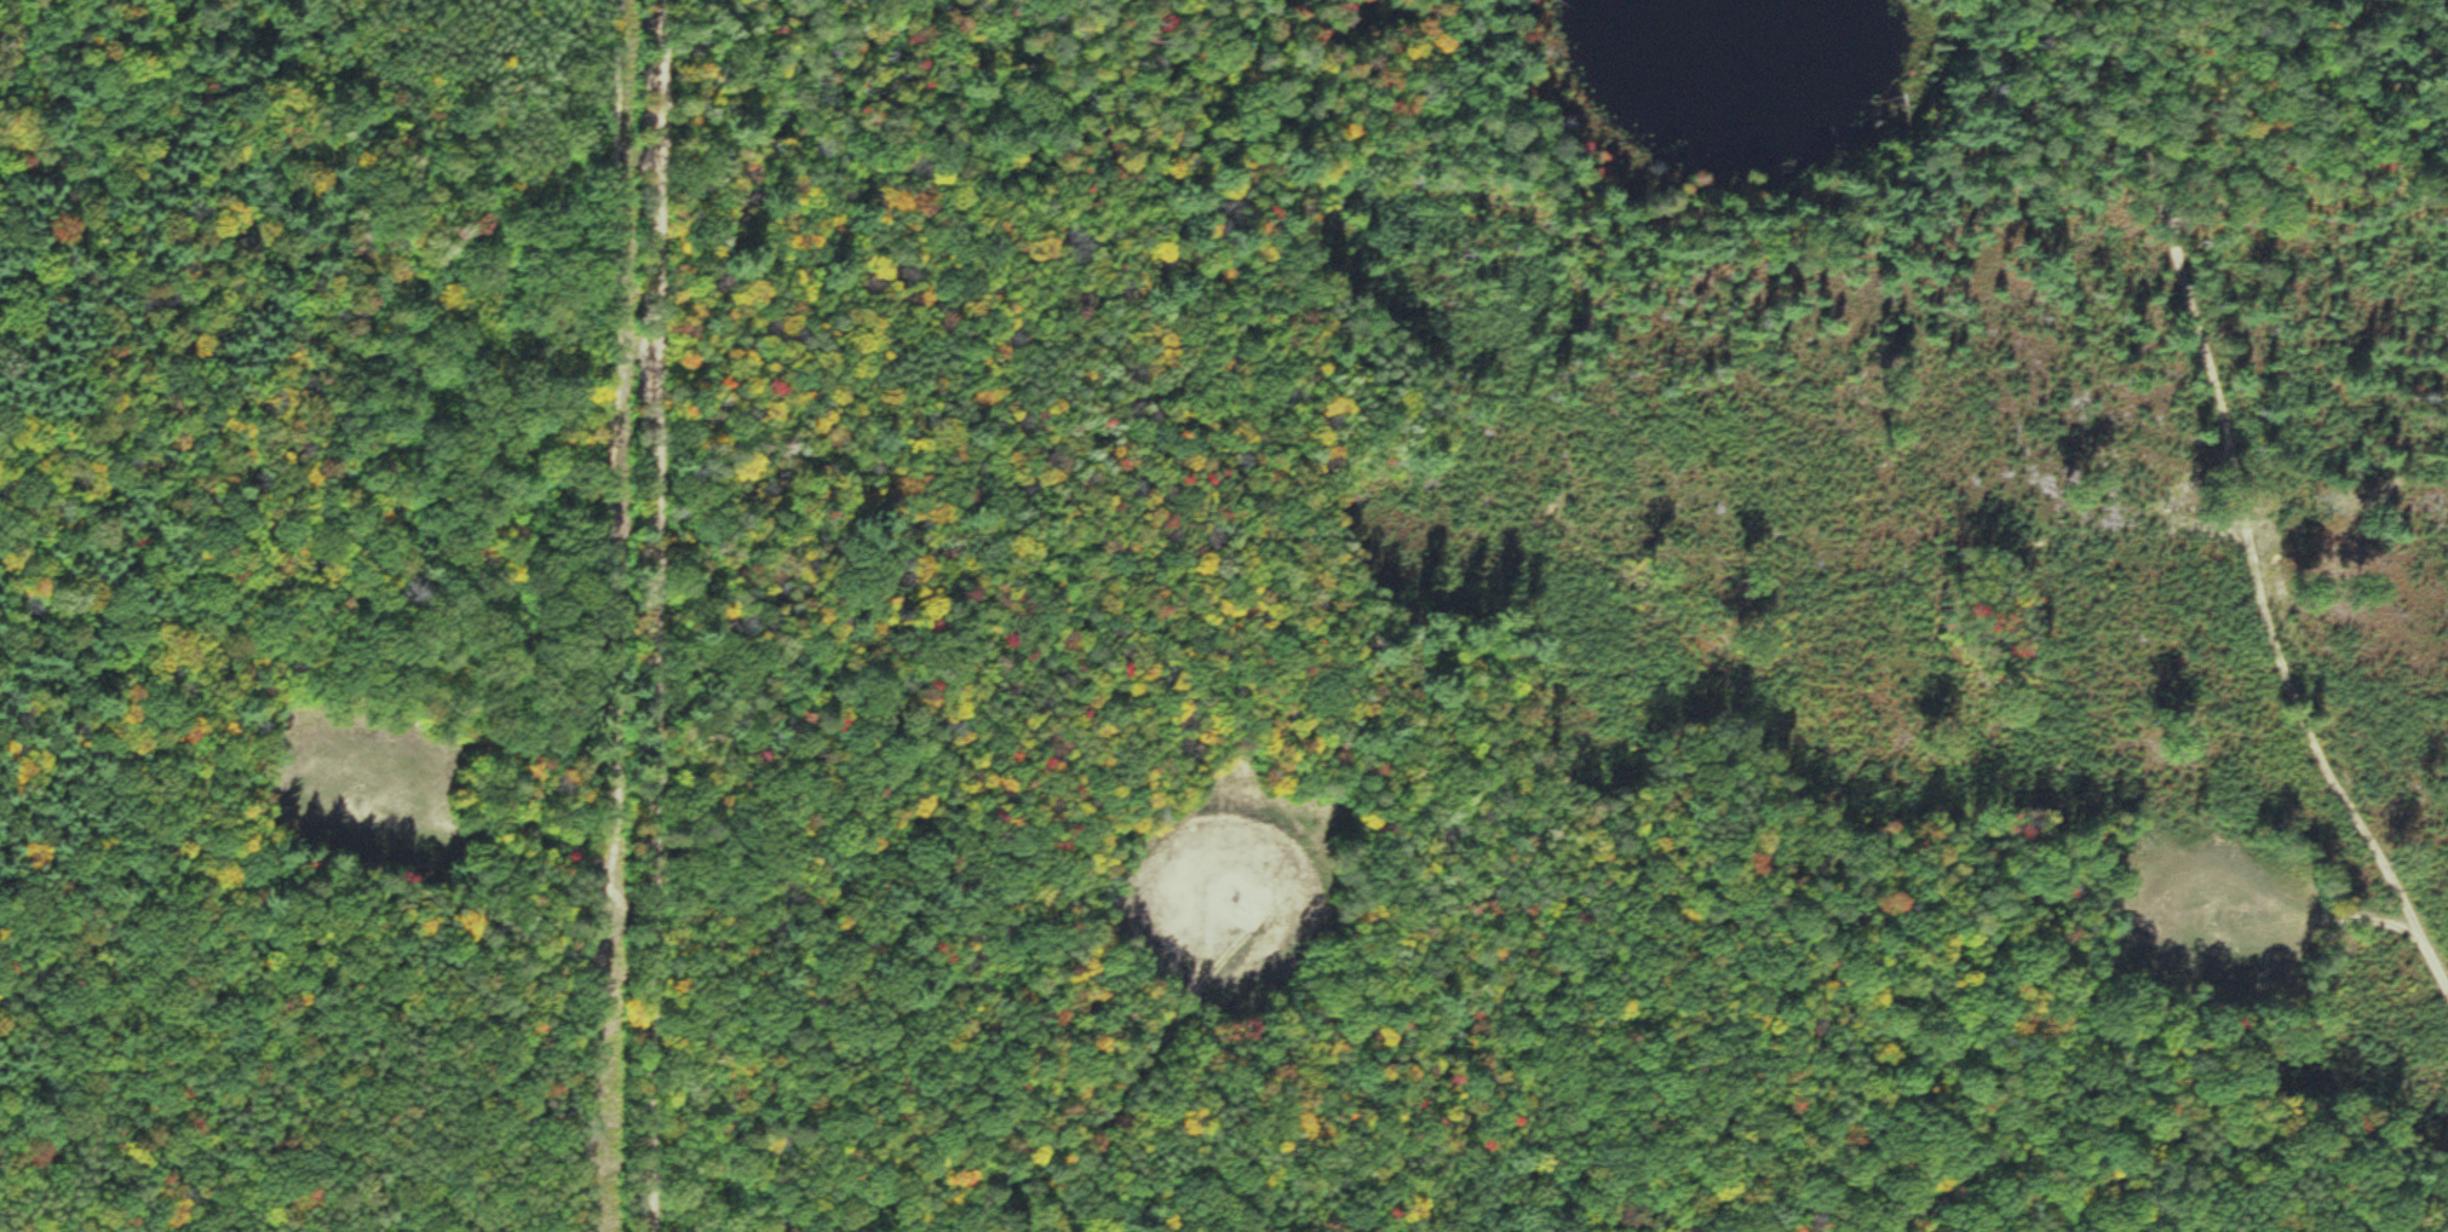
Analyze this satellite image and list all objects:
road: (2131, 82)
road: (2262, 594)
road: (655, 615)
petroleum well: (355, 799)
road: (521, 837)
petroleum well: (1235, 894)
petroleum well: (2222, 910)
road: (2352, 913)
road: (1148, 1070)
road: (987, 1201)
road: (1016, 1201)

